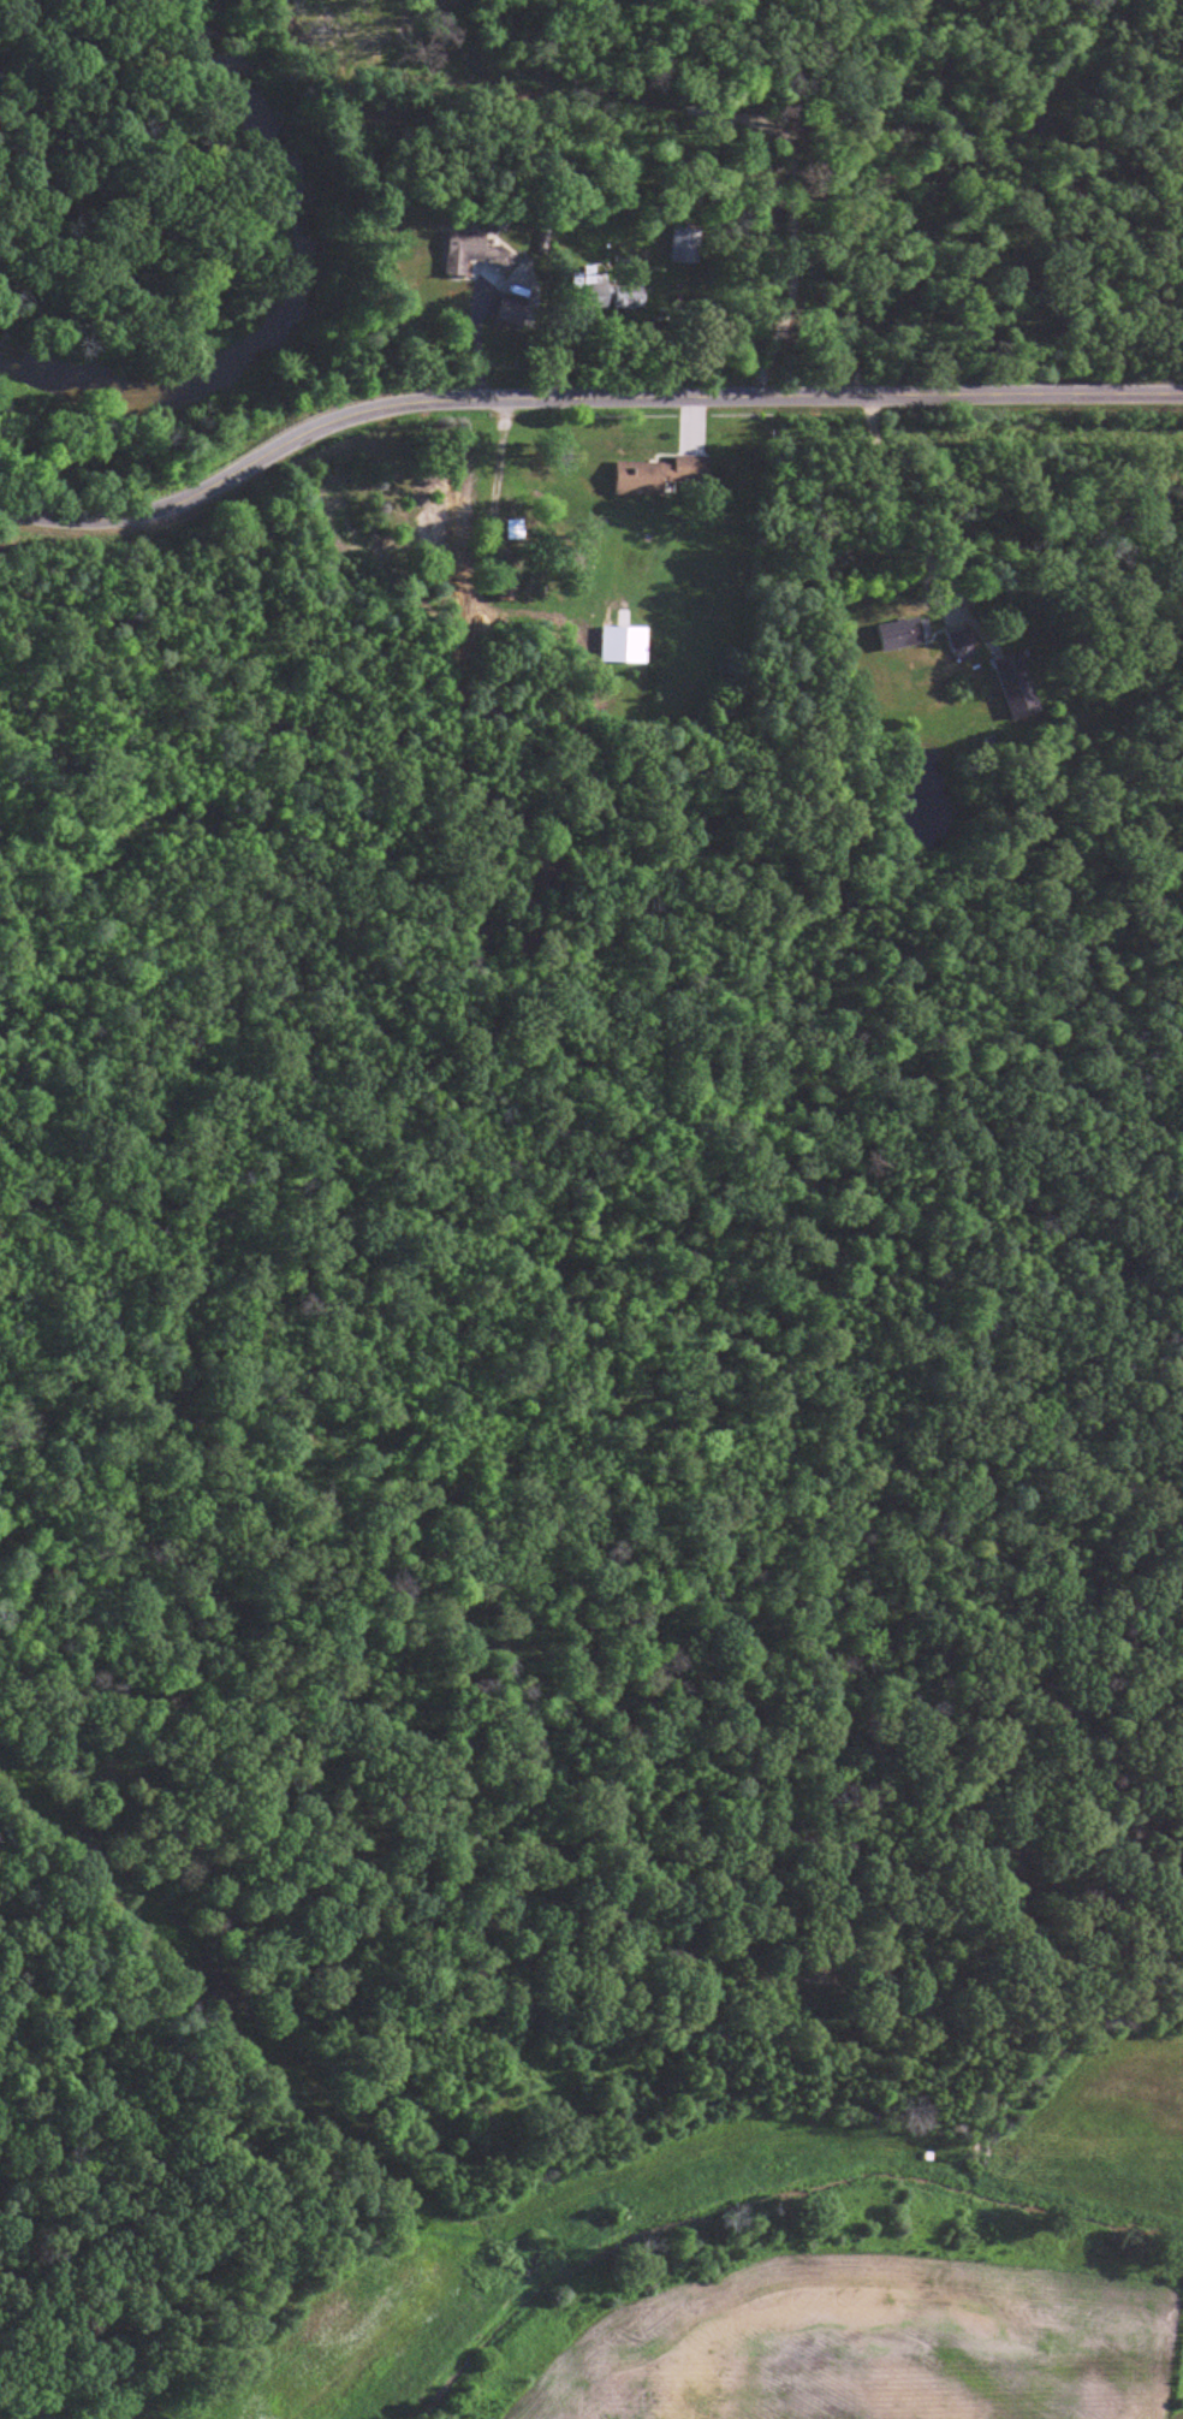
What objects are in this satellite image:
building: (688, 248)
building: (476, 256)
river: (284, 279)
building: (588, 291)
road: (575, 403)
building: (661, 476)
building: (428, 526)
building: (516, 530)
building: (547, 604)
building: (902, 636)
building: (963, 645)
building: (625, 647)
building: (1015, 680)

